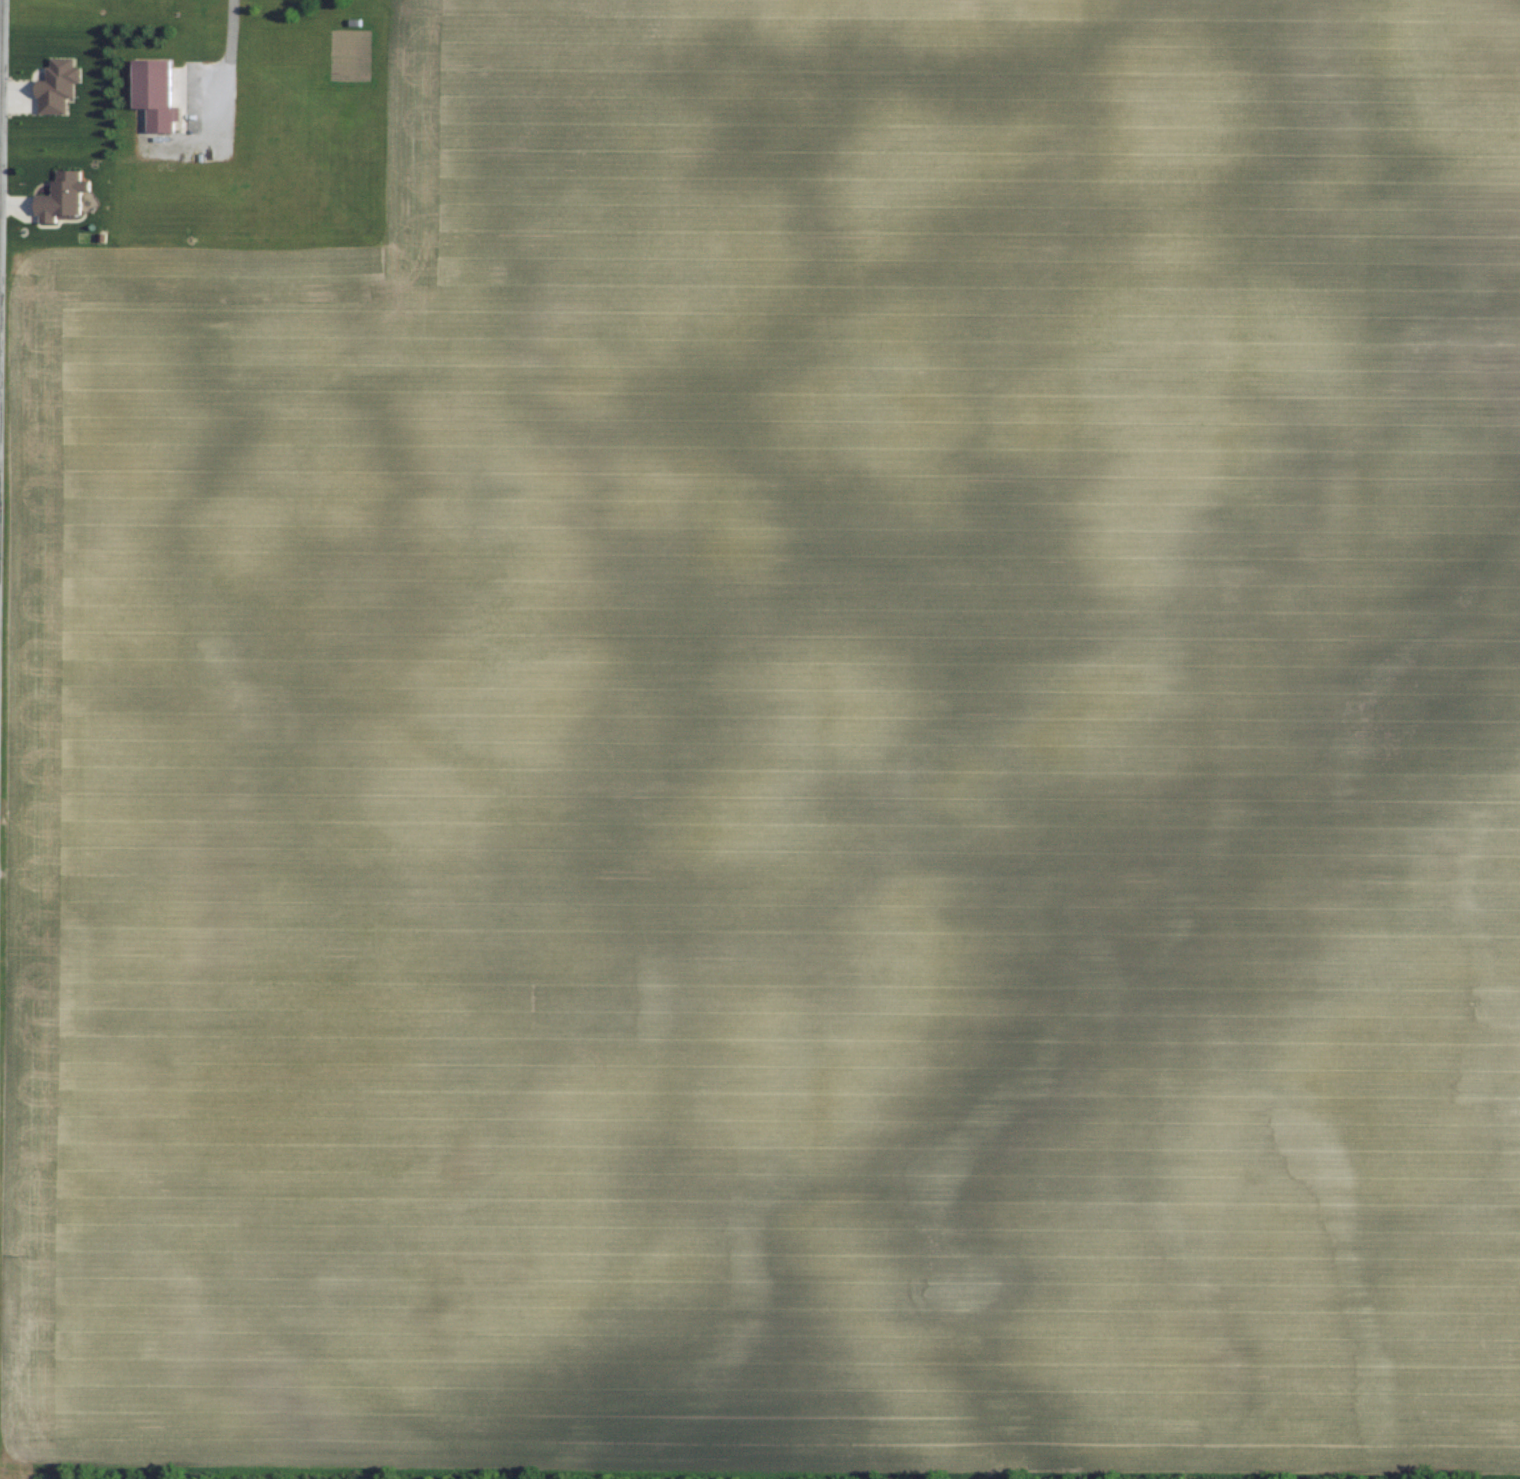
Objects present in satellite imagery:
road: (229, 57)
building: (159, 92)
road: (1, 157)

